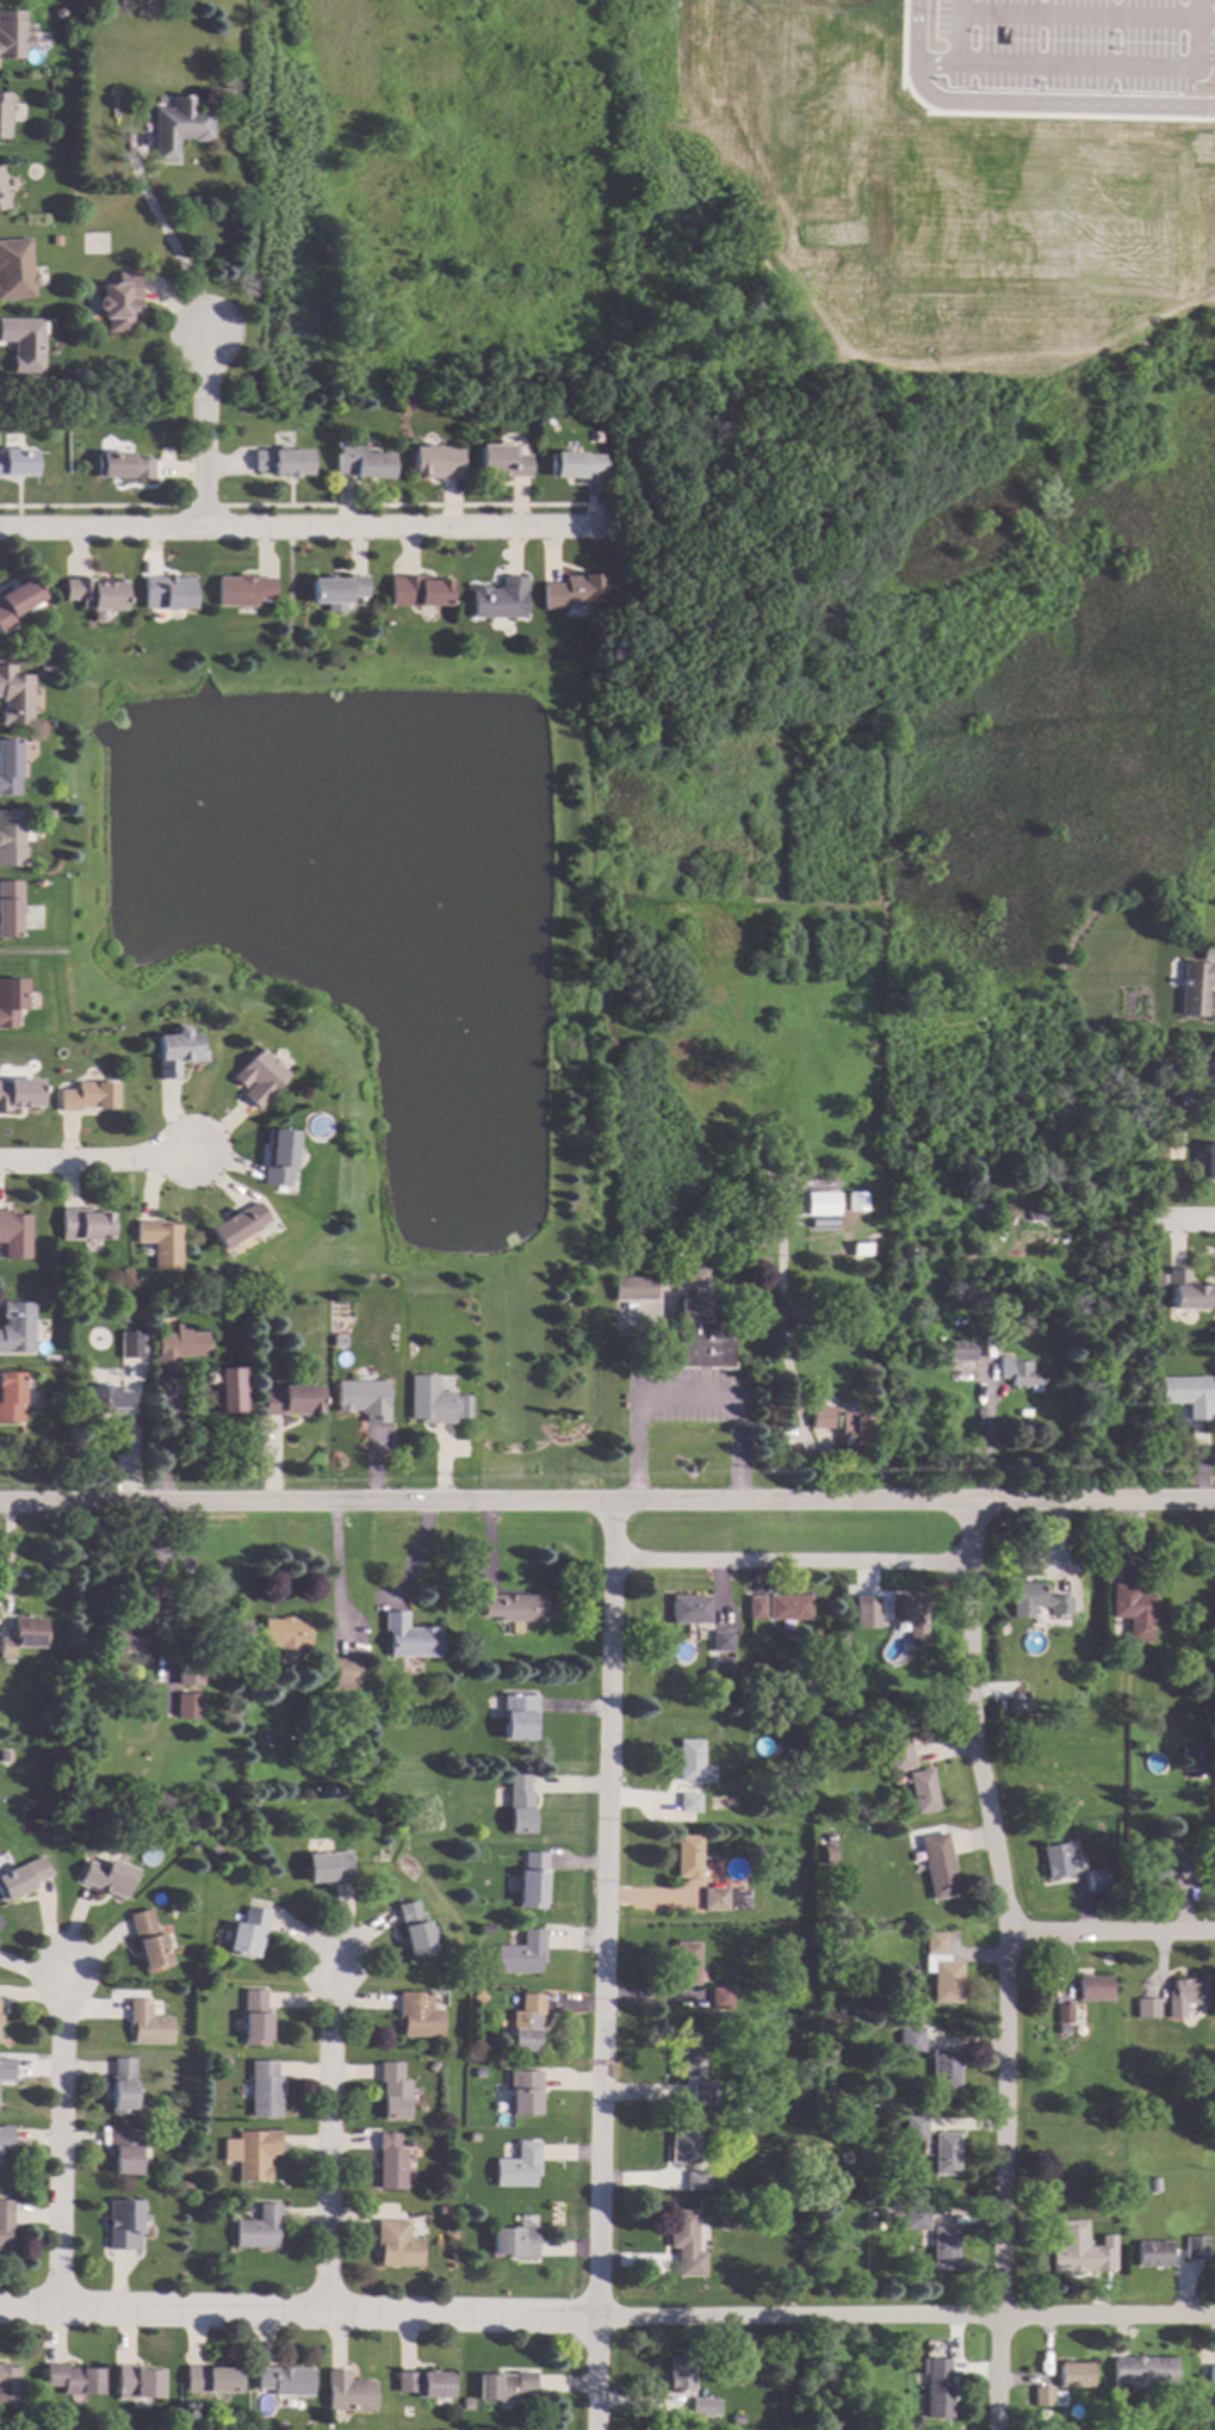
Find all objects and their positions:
road: (1085, 18)
road: (956, 31)
building: (11, 35)
road: (1091, 67)
road: (1021, 103)
building: (4, 115)
building: (176, 126)
building: (2, 198)
road: (168, 246)
building: (16, 270)
building: (118, 301)
building: (24, 344)
building: (78, 371)
road: (207, 433)
building: (106, 443)
building: (359, 460)
building: (17, 462)
building: (280, 462)
building: (435, 462)
building: (500, 462)
building: (575, 464)
building: (122, 466)
road: (295, 530)
building: (335, 589)
building: (241, 591)
building: (416, 591)
building: (572, 591)
building: (93, 593)
building: (166, 593)
building: (498, 600)
building: (16, 601)
building: (44, 666)
building: (13, 697)
building: (8, 767)
building: (48, 815)
building: (11, 839)
building: (10, 909)
building: (1195, 988)
building: (10, 998)
building: (176, 1051)
building: (259, 1077)
building: (19, 1094)
building: (87, 1096)
building: (1186, 1100)
building: (278, 1157)
road: (94, 1160)
building: (1210, 1161)
building: (856, 1201)
building: (820, 1204)
building: (1004, 1211)
building: (1035, 1212)
road: (1196, 1217)
building: (83, 1225)
building: (237, 1225)
building: (13, 1235)
building: (160, 1243)
building: (861, 1249)
building: (124, 1273)
building: (695, 1278)
building: (632, 1288)
building: (1184, 1291)
building: (120, 1316)
building: (16, 1327)
building: (702, 1334)
building: (336, 1341)
building: (129, 1344)
building: (175, 1346)
building: (961, 1350)
building: (1018, 1374)
building: (223, 1390)
building: (1188, 1395)
building: (10, 1398)
road: (684, 1398)
building: (105, 1399)
building: (361, 1399)
building: (428, 1399)
building: (290, 1401)
building: (461, 1406)
building: (822, 1417)
building: (854, 1430)
building: (793, 1449)
road: (607, 1502)
road: (791, 1562)
road: (339, 1576)
building: (1035, 1601)
building: (787, 1607)
building: (512, 1608)
building: (754, 1608)
building: (688, 1609)
building: (849, 1609)
building: (868, 1610)
building: (1133, 1612)
building: (907, 1616)
building: (284, 1633)
building: (786, 1636)
building: (23, 1637)
building: (122, 1637)
building: (408, 1638)
building: (720, 1640)
building: (824, 1647)
building: (466, 1663)
building: (720, 1663)
building: (187, 1668)
building: (343, 1674)
building: (1009, 1704)
building: (186, 1706)
building: (824, 1715)
building: (813, 1717)
building: (516, 1718)
building: (897, 1754)
building: (1192, 1758)
building: (688, 1761)
building: (745, 1791)
building: (920, 1792)
building: (688, 1803)
building: (254, 1804)
building: (517, 1804)
building: (715, 1805)
building: (212, 1849)
building: (829, 1851)
building: (686, 1856)
building: (1058, 1860)
building: (1184, 1861)
building: (782, 1865)
building: (937, 1866)
building: (328, 1868)
building: (1195, 1868)
building: (1154, 1872)
building: (107, 1876)
building: (21, 1878)
building: (1097, 1880)
building: (531, 1881)
building: (723, 1899)
building: (0, 1921)
building: (413, 1929)
building: (485, 1929)
road: (1115, 1930)
building: (248, 1933)
building: (149, 1941)
building: (841, 1944)
building: (520, 1954)
building: (686, 1964)
road: (602, 1965)
road: (1013, 1965)
building: (941, 1970)
building: (1093, 1989)
building: (1184, 1996)
building: (478, 1997)
building: (719, 1998)
building: (1146, 2008)
building: (1064, 2014)
building: (417, 2015)
building: (256, 2017)
building: (149, 2024)
building: (525, 2024)
building: (1064, 2029)
building: (910, 2040)
building: (683, 2055)
building: (225, 2060)
building: (430, 2066)
building: (6, 2069)
building: (944, 2069)
building: (479, 2073)
building: (123, 2086)
building: (265, 2090)
building: (392, 2092)
building: (523, 2092)
building: (702, 2092)
building: (913, 2128)
road: (333, 2134)
building: (472, 2137)
building: (5, 2138)
road: (64, 2141)
building: (683, 2145)
building: (125, 2150)
building: (256, 2154)
building: (944, 2154)
building: (390, 2163)
building: (519, 2166)
building: (698, 2181)
building: (187, 2185)
building: (1153, 2185)
building: (757, 2191)
building: (444, 2211)
building: (913, 2218)
building: (1095, 2219)
building: (5, 2224)
building: (124, 2225)
building: (259, 2228)
building: (1101, 2234)
building: (515, 2243)
building: (686, 2243)
building: (396, 2244)
building: (1067, 2247)
building: (943, 2249)
building: (1195, 2249)
building: (1152, 2253)
road: (607, 2318)
building: (901, 2364)
building: (911, 2364)
building: (1141, 2373)
building: (681, 2374)
building: (1074, 2374)
building: (1211, 2375)
building: (72, 2379)
building: (211, 2380)
building: (284, 2380)
building: (136, 2382)
building: (423, 2383)
building: (8, 2386)
building: (504, 2386)
building: (937, 2388)
building: (346, 2391)
building: (1041, 2397)
building: (467, 2404)
building: (703, 2407)
building: (404, 2411)
building: (1042, 2414)
building: (1202, 2417)
building: (737, 2419)
park: (29, 2424)

